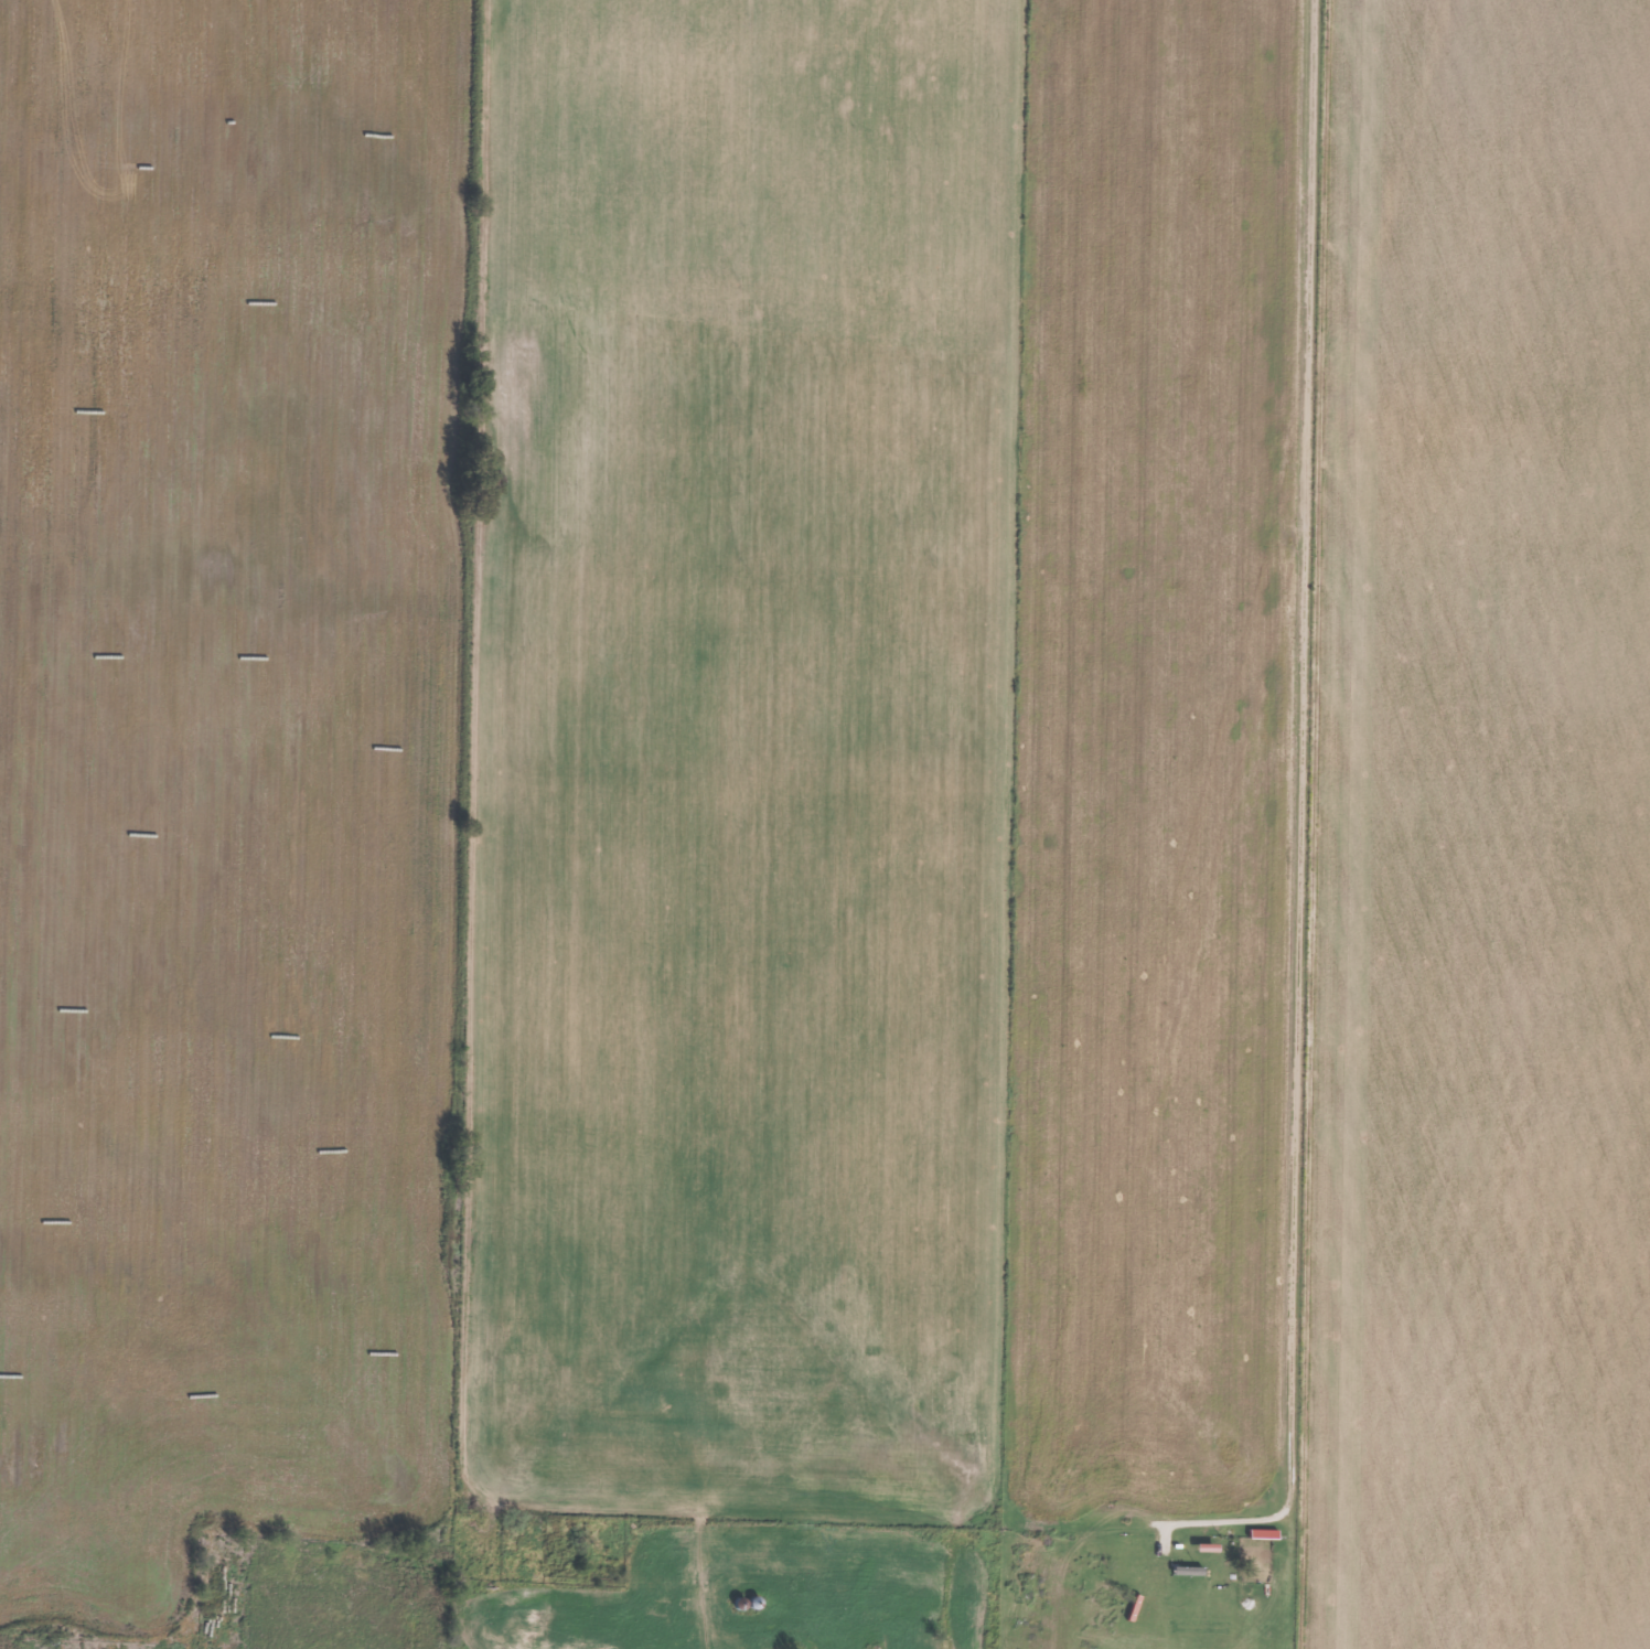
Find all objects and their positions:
road: (1301, 824)
road: (490, 1068)

